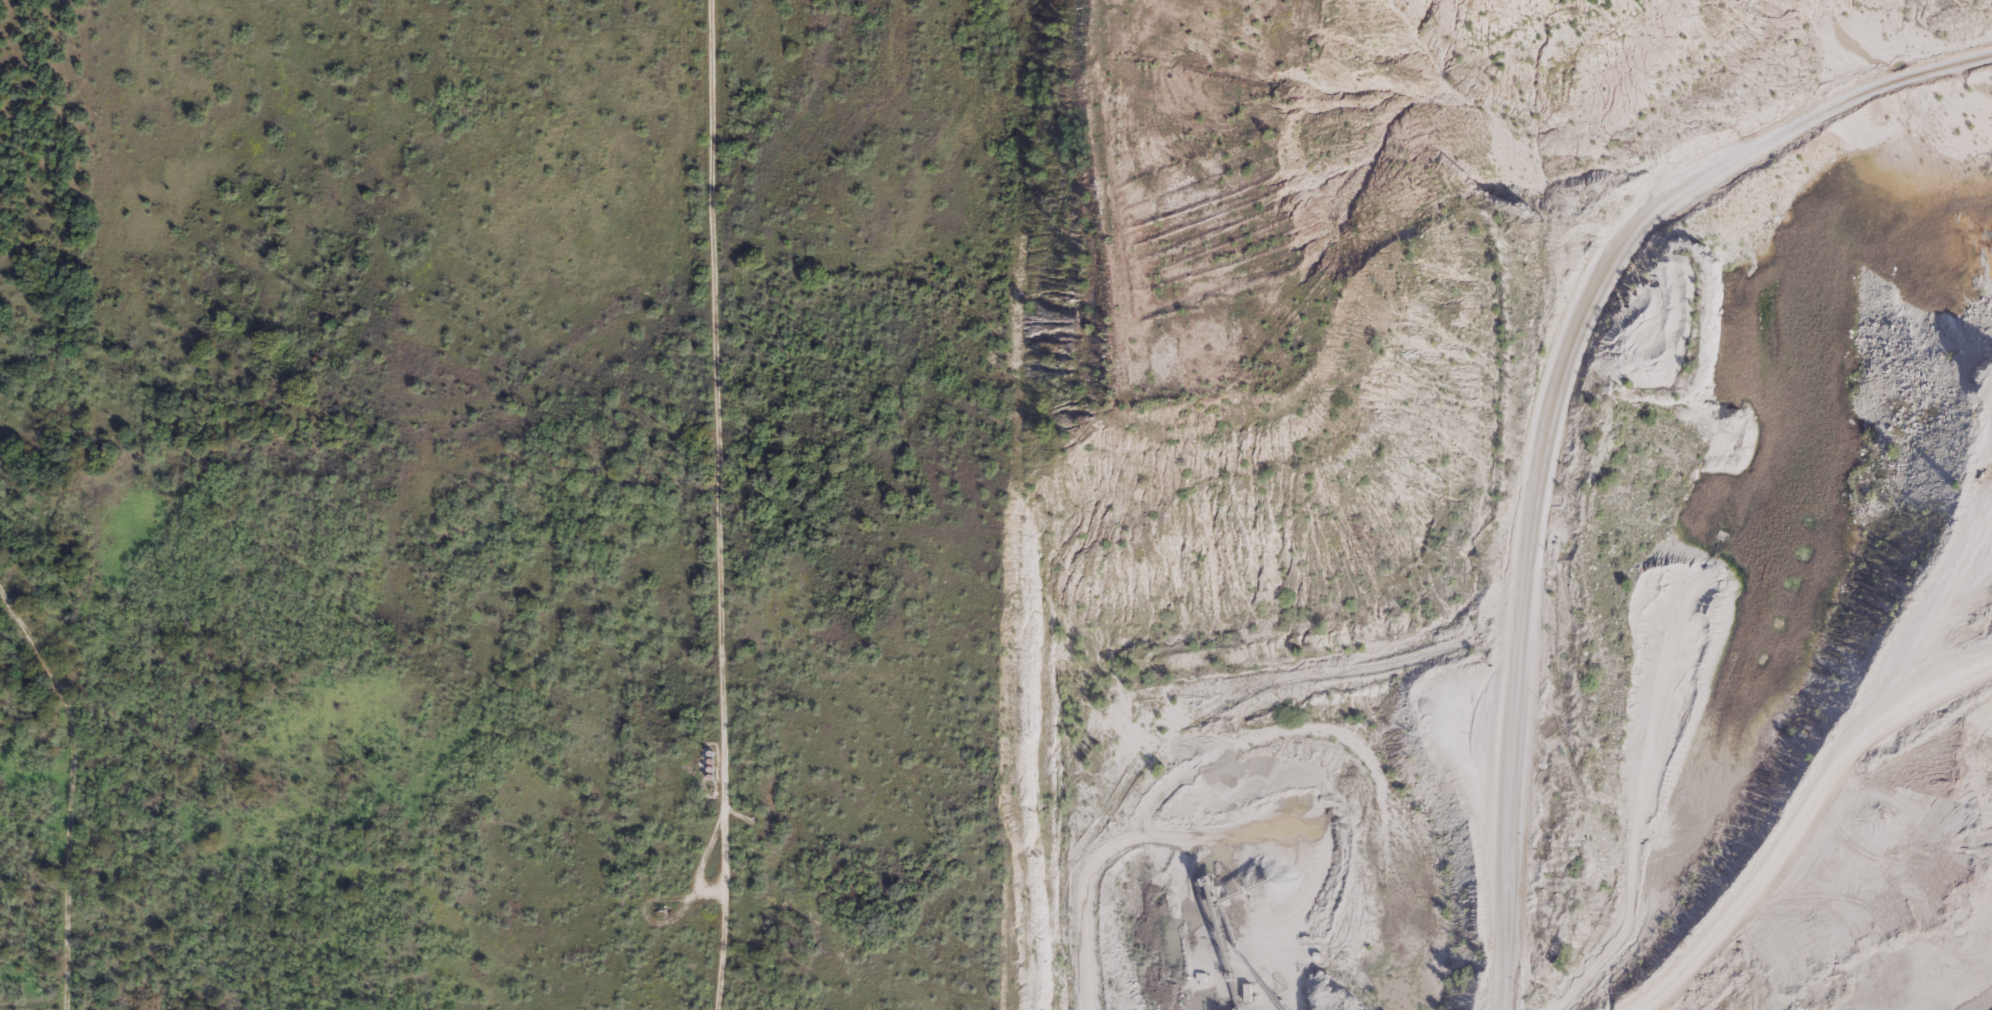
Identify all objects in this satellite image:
road: (698, 505)
quarry: (1514, 506)
road: (63, 818)

